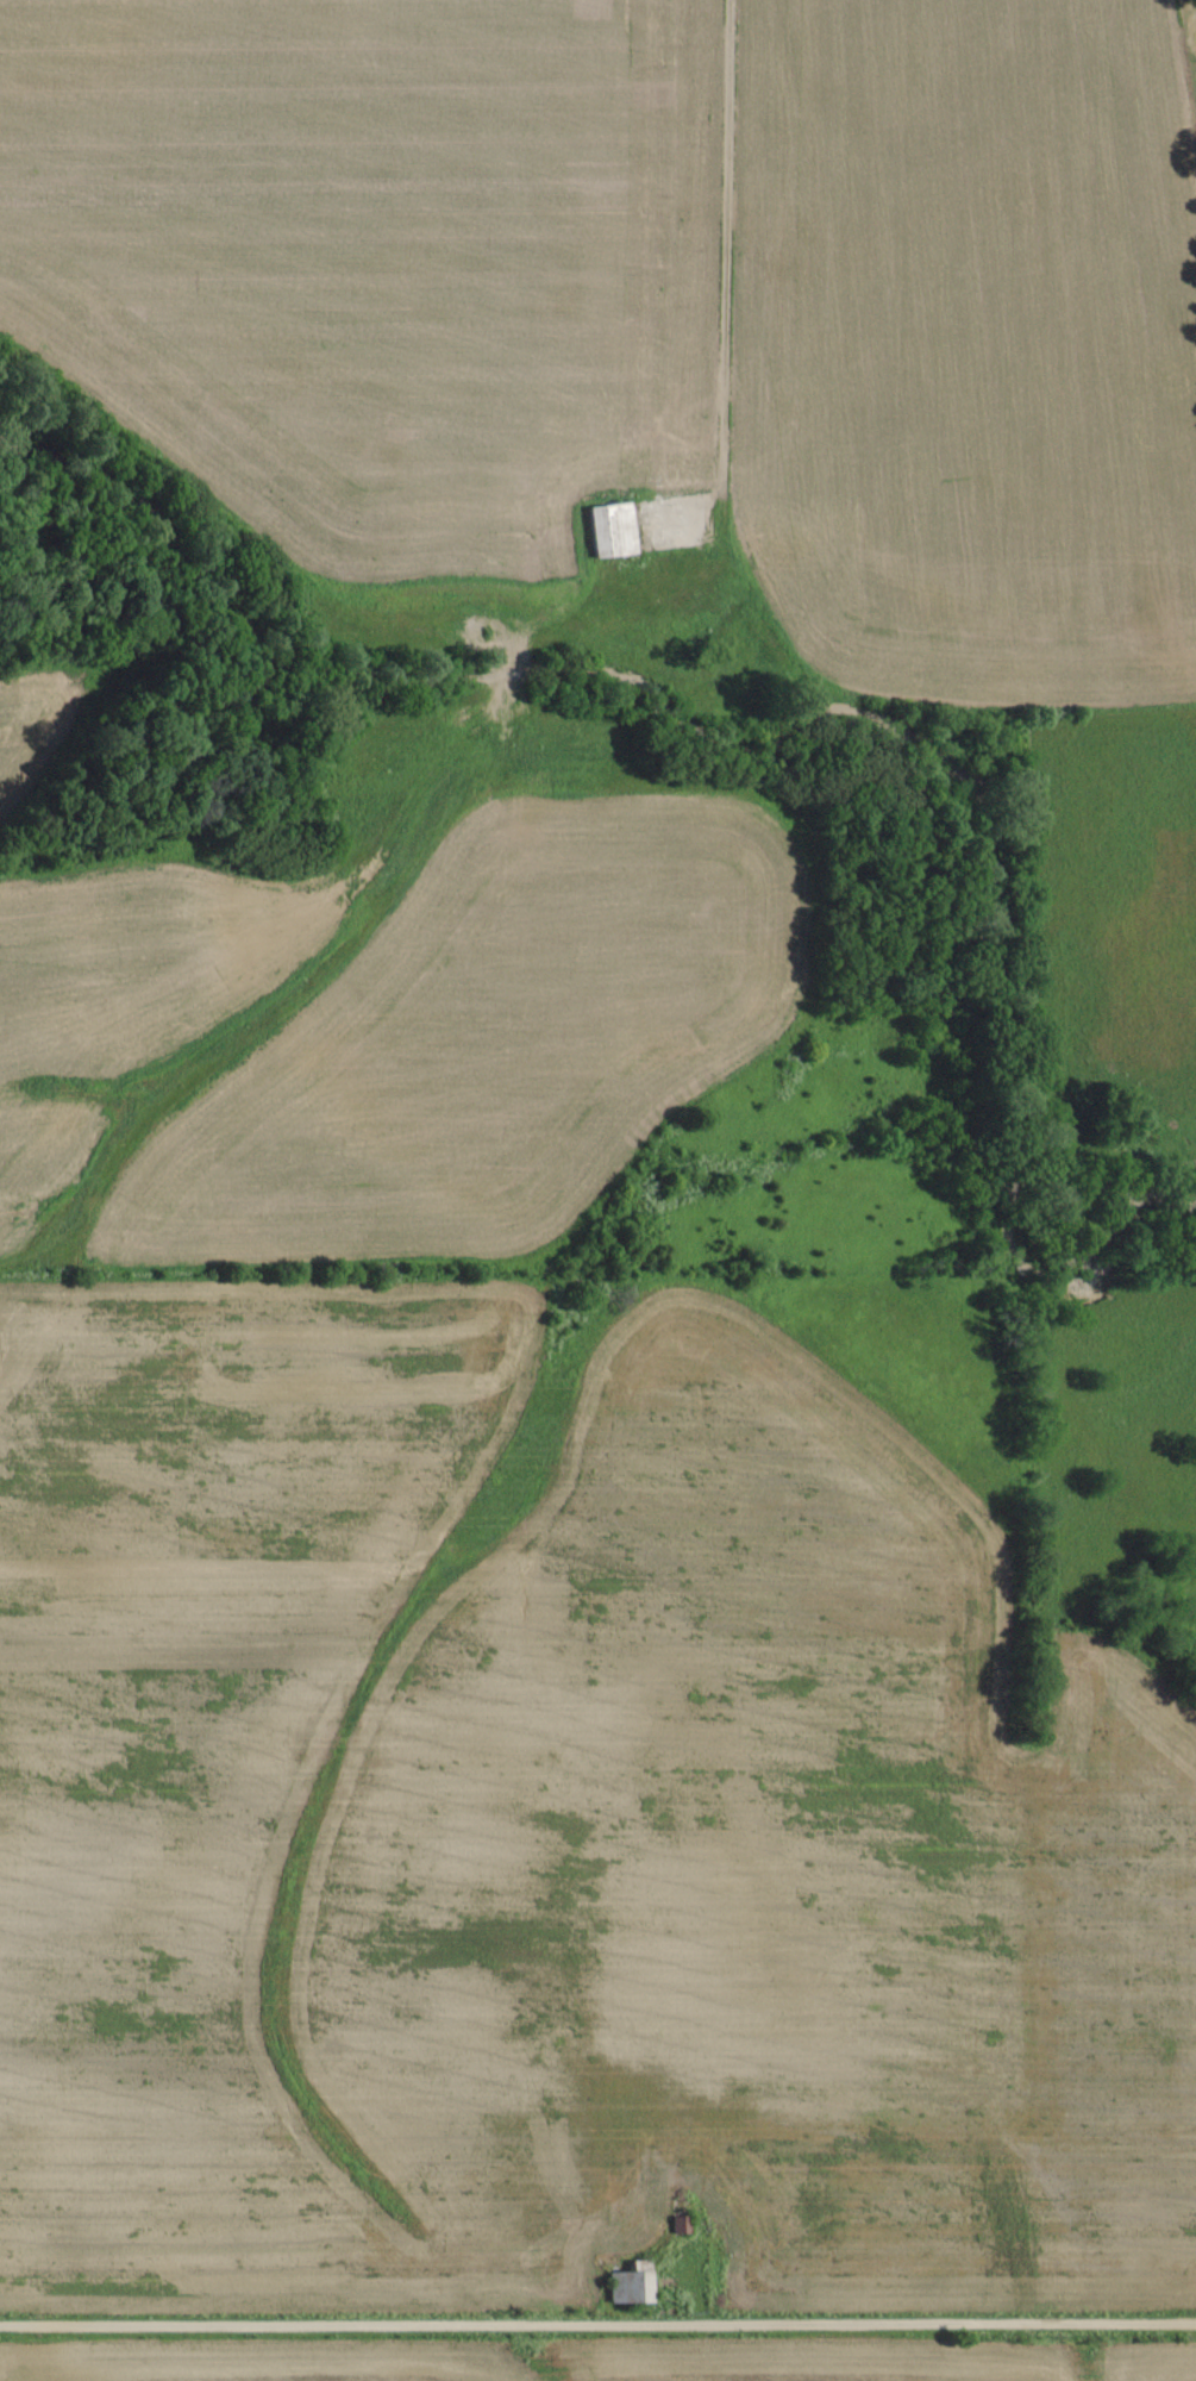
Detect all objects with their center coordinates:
road: (725, 243)
building: (608, 531)
building: (678, 2226)
building: (627, 2285)
road: (597, 2324)

